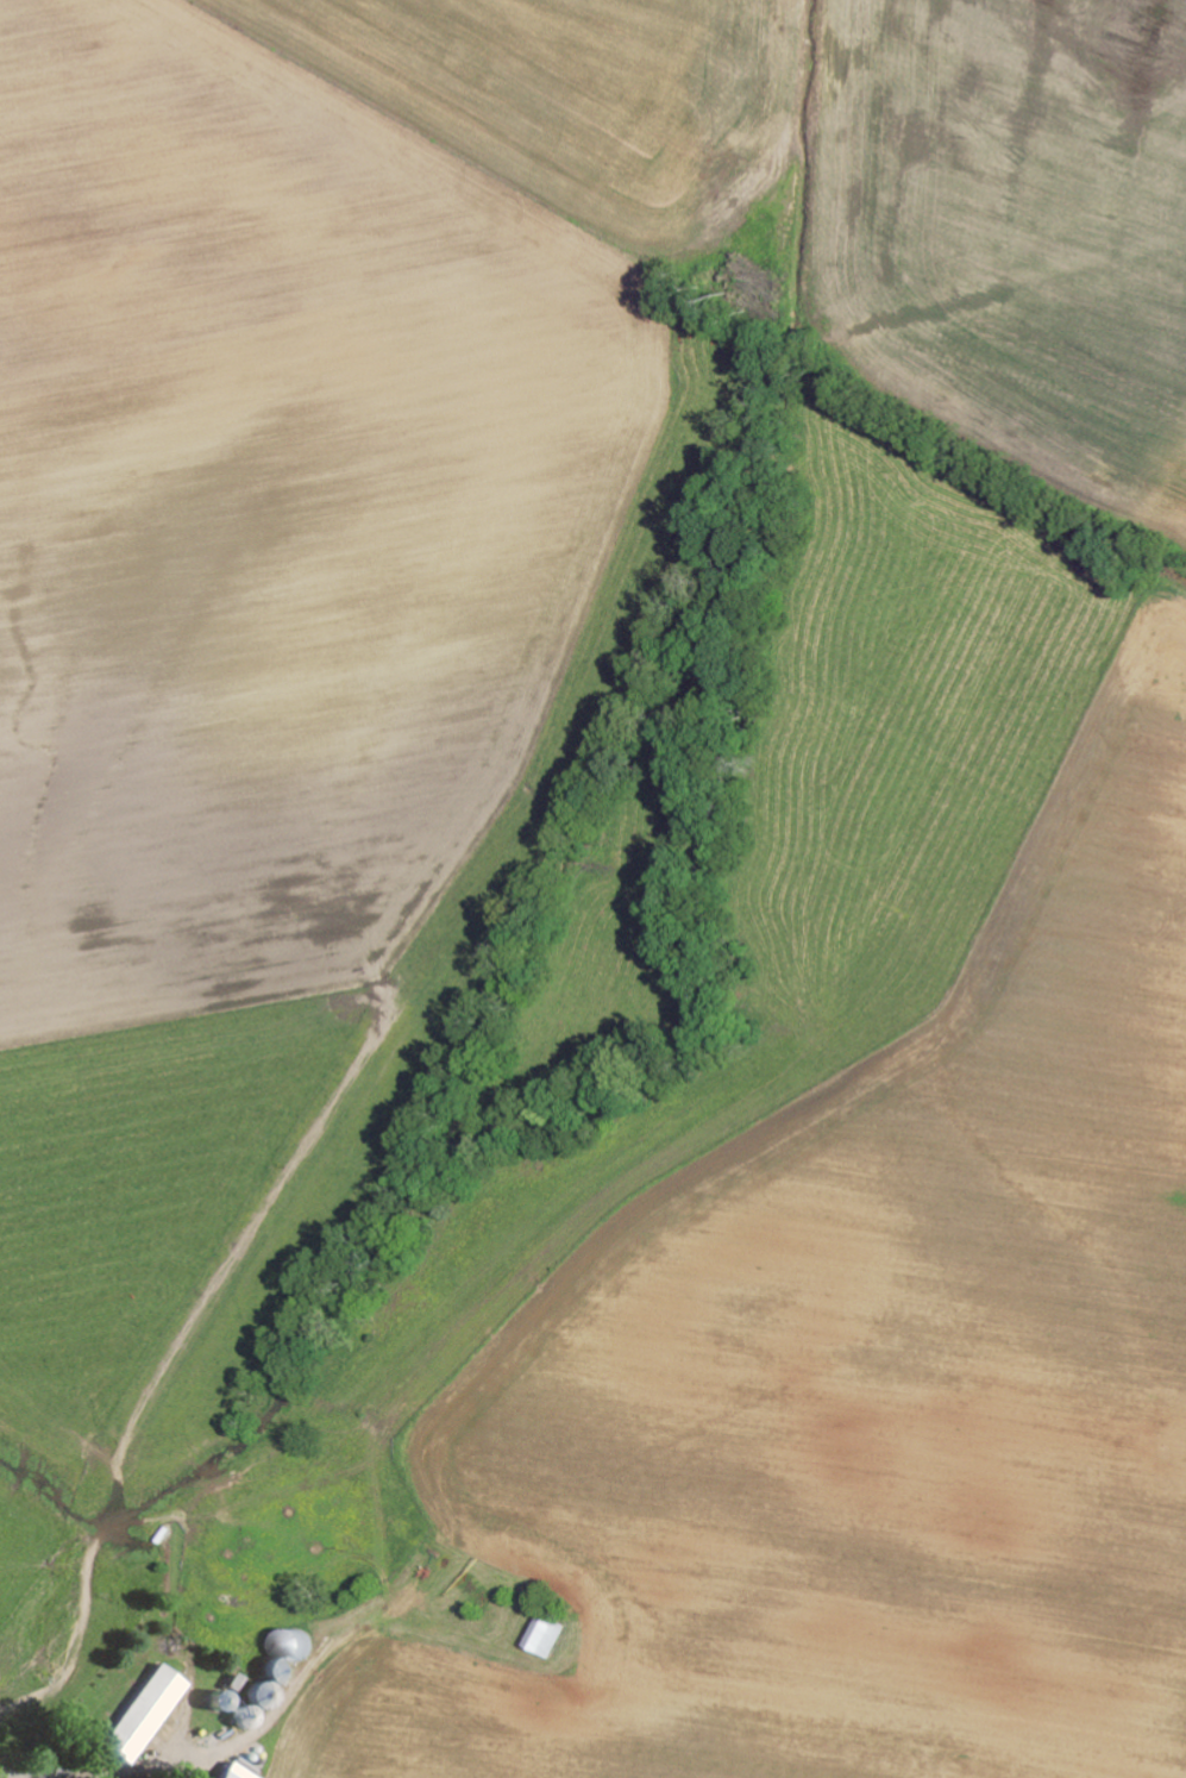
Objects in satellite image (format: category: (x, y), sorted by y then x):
building: (547, 1636)
building: (143, 1714)
road: (127, 1772)
building: (234, 1772)
road: (6, 1776)

